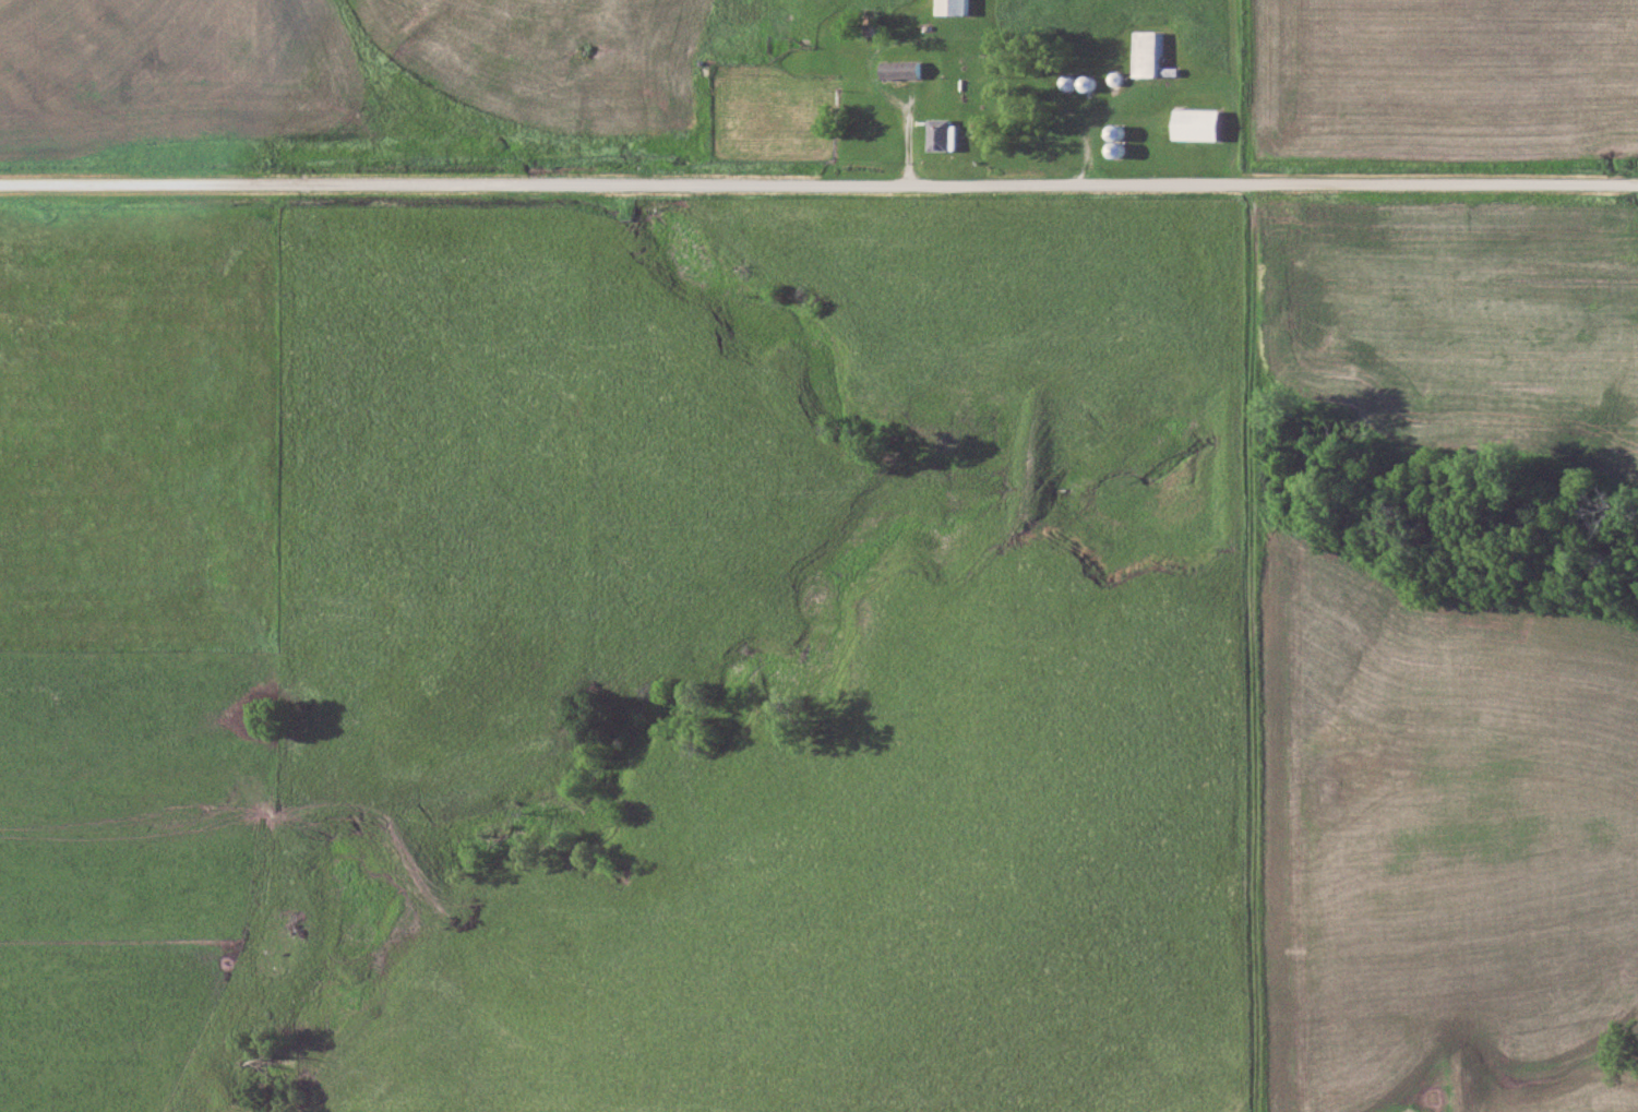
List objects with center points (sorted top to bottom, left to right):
road: (943, 37)
building: (1141, 51)
building: (900, 68)
building: (1085, 82)
building: (1197, 123)
building: (941, 132)
road: (818, 183)

